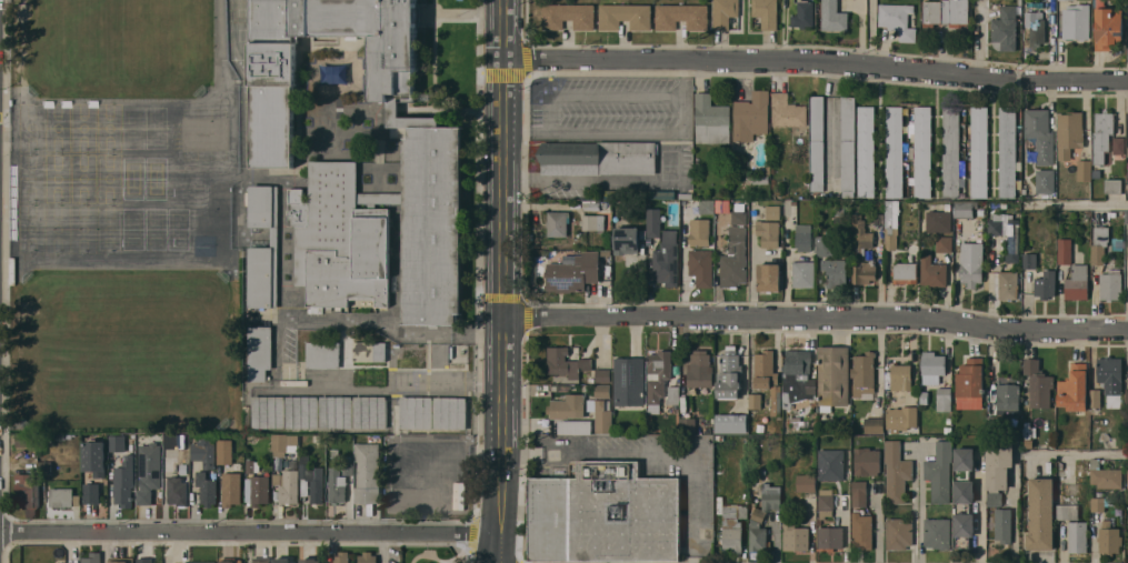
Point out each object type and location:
building: (946, 12)
building: (723, 13)
building: (766, 13)
building: (803, 13)
building: (568, 16)
building: (625, 16)
building: (681, 16)
building: (833, 16)
building: (898, 20)
building: (1076, 21)
building: (1107, 26)
building: (1036, 27)
building: (1005, 29)
road: (817, 59)
building: (273, 77)
parking lot: (611, 107)
building: (788, 111)
building: (751, 115)
building: (711, 120)
road: (687, 121)
road: (833, 125)
building: (1040, 133)
building: (1070, 133)
building: (1102, 134)
building: (817, 142)
building: (848, 143)
building: (1119, 144)
building: (866, 151)
building: (895, 151)
building: (979, 151)
building: (922, 152)
building: (1008, 152)
building: (951, 153)
building: (1127, 153)
building: (598, 158)
building: (1085, 170)
building: (1127, 175)
building: (1046, 180)
road: (588, 182)
building: (1112, 184)
building: (658, 194)
building: (707, 205)
road: (1078, 207)
building: (962, 209)
building: (773, 211)
building: (1127, 215)
building: (739, 217)
building: (787, 218)
building: (592, 221)
building: (938, 221)
building: (222, 222)
building: (558, 222)
building: (653, 222)
building: (891, 223)
building: (385, 231)
building: (699, 231)
building: (1006, 231)
building: (769, 232)
building: (861, 234)
building: (274, 237)
building: (803, 237)
building: (627, 239)
building: (945, 243)
building: (1099, 244)
building: (830, 245)
building: (1065, 250)
building: (1127, 255)
building: (735, 258)
building: (666, 260)
building: (1030, 260)
building: (971, 263)
building: (701, 265)
building: (932, 271)
road: (752, 272)
building: (836, 272)
building: (865, 272)
building: (905, 272)
building: (573, 273)
building: (803, 273)
building: (769, 277)
road: (786, 280)
road: (502, 281)
building: (1078, 282)
building: (1008, 284)
building: (1046, 284)
building: (1110, 284)
road: (816, 315)
building: (260, 351)
building: (370, 351)
building: (323, 354)
building: (566, 362)
building: (934, 363)
building: (765, 369)
building: (700, 370)
building: (1110, 373)
building: (658, 374)
building: (864, 374)
building: (602, 375)
building: (729, 375)
building: (833, 376)
building: (900, 376)
building: (798, 378)
building: (971, 380)
building: (629, 381)
building: (1038, 383)
building: (1074, 388)
building: (602, 391)
building: (672, 395)
building: (1127, 396)
building: (944, 399)
building: (1008, 399)
building: (755, 400)
building: (776, 400)
building: (1095, 400)
building: (567, 406)
building: (268, 411)
building: (302, 411)
building: (336, 411)
building: (370, 411)
building: (416, 411)
building: (450, 412)
building: (601, 414)
building: (901, 416)
building: (731, 422)
building: (874, 424)
building: (688, 425)
building: (576, 426)
building: (168, 438)
building: (27, 440)
building: (118, 443)
building: (285, 443)
building: (224, 450)
building: (204, 451)
road: (452, 451)
road: (650, 451)
road: (1079, 455)
building: (96, 458)
building: (867, 461)
building: (170, 462)
building: (831, 464)
building: (250, 468)
building: (998, 470)
building: (149, 471)
building: (896, 471)
building: (368, 472)
building: (940, 472)
building: (1105, 475)
building: (1127, 475)
building: (311, 480)
building: (124, 481)
building: (806, 482)
building: (288, 485)
building: (30, 487)
building: (207, 489)
building: (231, 489)
building: (337, 489)
building: (259, 490)
building: (177, 491)
building: (859, 492)
building: (91, 493)
building: (771, 495)
building: (964, 495)
building: (63, 496)
building: (825, 503)
building: (1098, 503)
road: (917, 505)
building: (1067, 510)
road: (982, 513)
building: (1041, 513)
building: (603, 514)
road: (1015, 517)
building: (1004, 524)
building: (862, 530)
road: (249, 531)
building: (758, 531)
building: (899, 533)
building: (937, 533)
building: (731, 534)
building: (795, 534)
building: (1078, 536)
building: (830, 539)
building: (1109, 539)
park: (435, 554)
building: (341, 556)
building: (92, 557)
building: (367, 557)
building: (121, 560)
building: (260, 560)
building: (282, 560)
building: (310, 560)
building: (146, 561)
building: (201, 562)
building: (228, 562)

